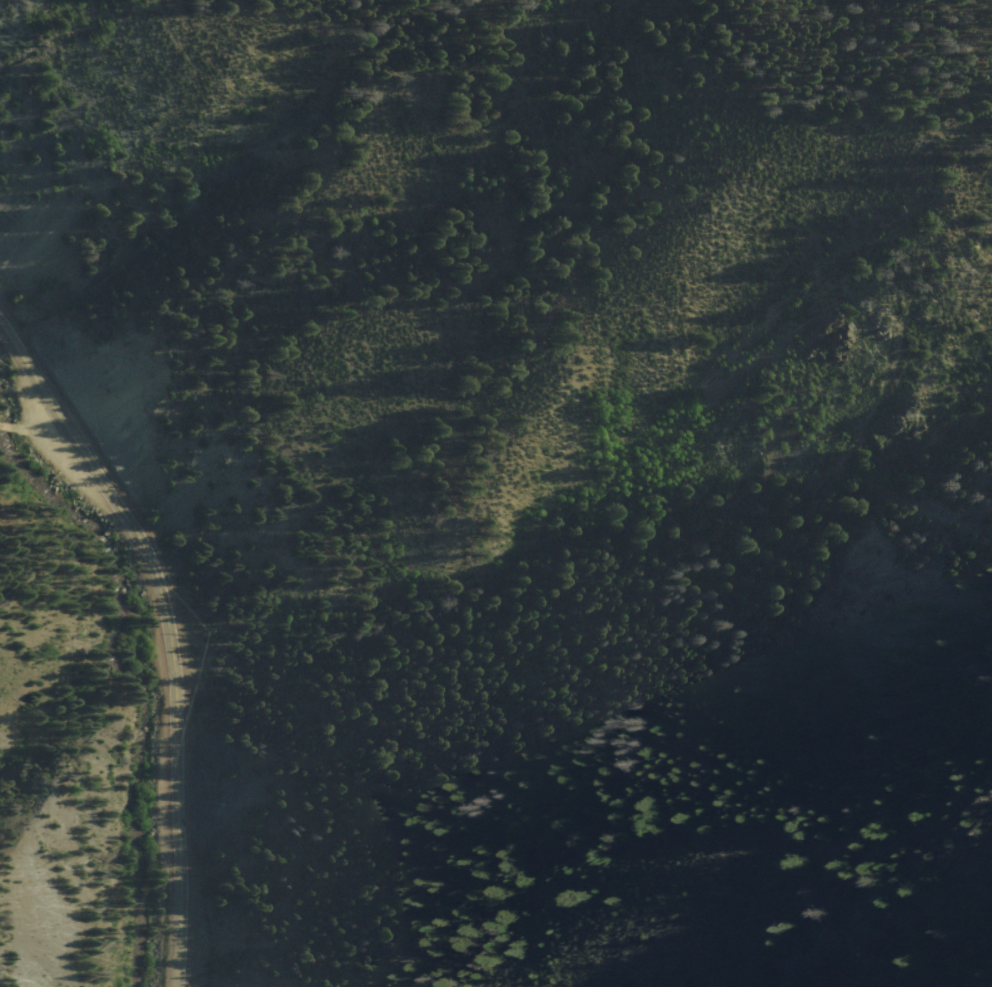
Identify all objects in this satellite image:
road: (871, 91)
road: (34, 415)
road: (7, 421)
road: (110, 606)
road: (167, 634)

